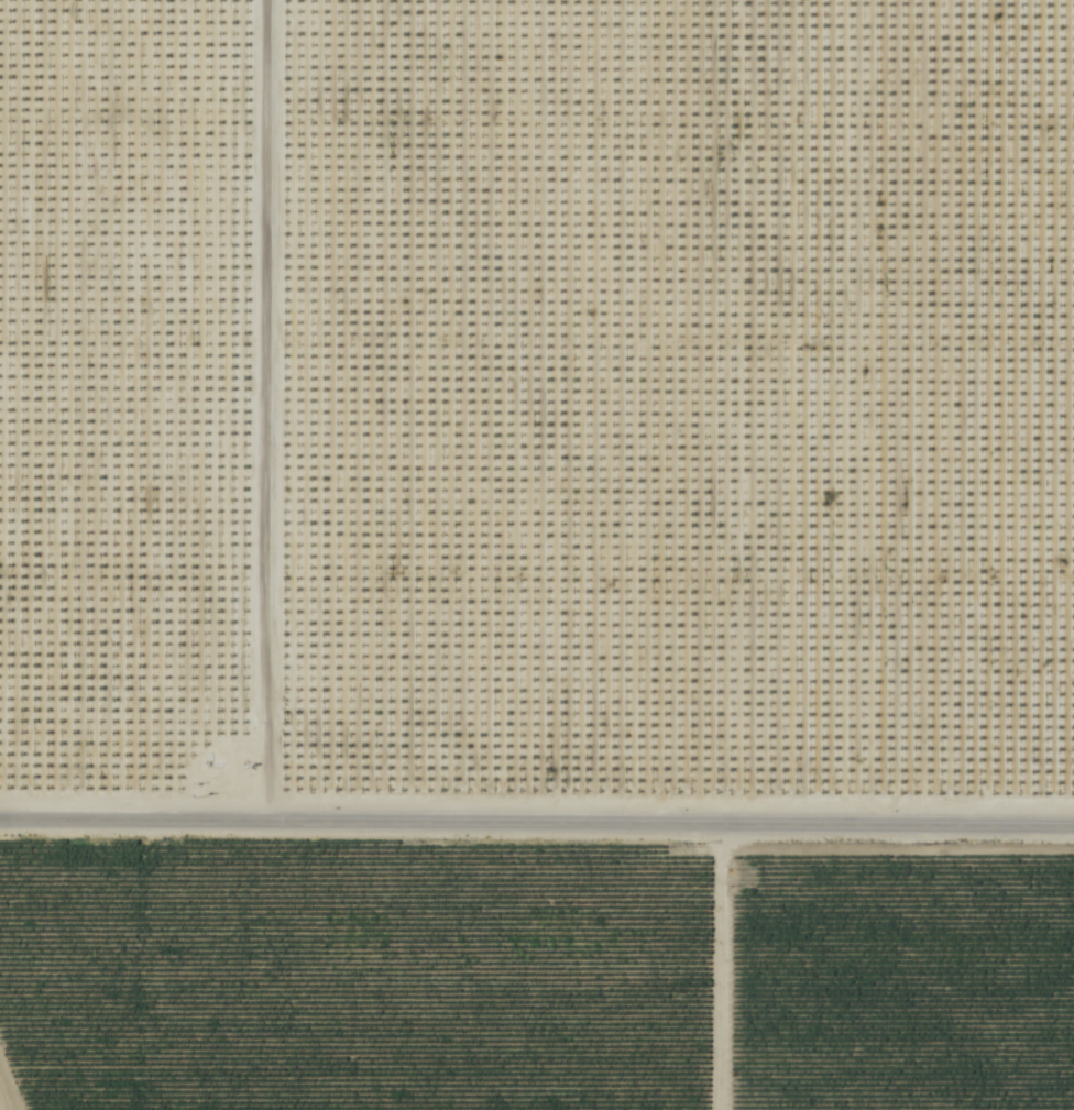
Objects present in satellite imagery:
road: (257, 411)
road: (536, 824)
road: (708, 968)
crop: (350, 977)
crop: (898, 980)

